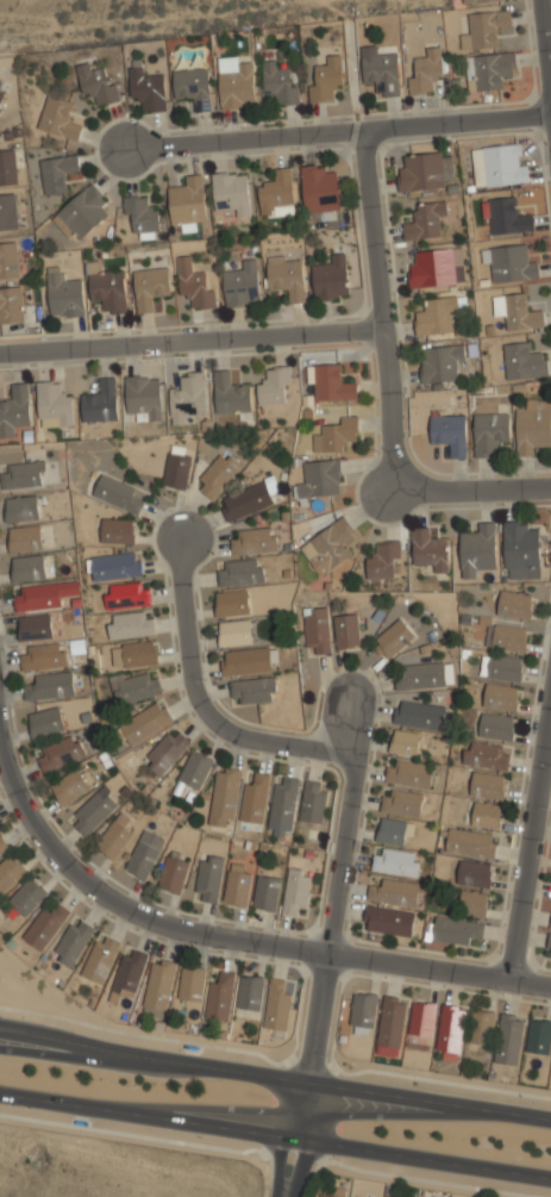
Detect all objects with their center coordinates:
building: (480, 1)
building: (484, 29)
road: (545, 46)
building: (490, 69)
building: (426, 70)
building: (382, 71)
building: (326, 75)
building: (0, 80)
building: (278, 82)
building: (96, 83)
building: (236, 83)
building: (1, 87)
building: (192, 88)
building: (146, 89)
building: (1, 94)
building: (60, 118)
road: (339, 135)
building: (499, 164)
building: (8, 167)
building: (424, 170)
building: (58, 172)
building: (320, 189)
building: (276, 193)
building: (231, 194)
building: (188, 201)
building: (8, 211)
building: (82, 213)
building: (506, 214)
building: (143, 216)
building: (425, 219)
building: (10, 260)
building: (511, 262)
building: (437, 267)
building: (286, 276)
building: (331, 278)
building: (194, 283)
building: (242, 285)
building: (150, 286)
building: (109, 292)
building: (64, 297)
building: (12, 305)
road: (378, 311)
building: (516, 311)
building: (434, 316)
road: (189, 337)
building: (524, 360)
building: (439, 362)
building: (328, 381)
building: (275, 385)
building: (231, 393)
building: (144, 397)
building: (188, 397)
building: (101, 403)
building: (52, 404)
building: (14, 411)
building: (533, 425)
building: (449, 430)
building: (489, 432)
building: (336, 434)
building: (176, 467)
building: (218, 473)
building: (24, 474)
building: (319, 479)
road: (474, 488)
building: (118, 493)
building: (250, 498)
building: (21, 507)
building: (118, 530)
building: (25, 537)
building: (255, 540)
building: (330, 544)
building: (520, 545)
building: (477, 547)
building: (430, 548)
building: (383, 559)
building: (30, 566)
building: (115, 566)
building: (240, 571)
building: (127, 594)
building: (37, 597)
building: (233, 601)
building: (514, 604)
building: (131, 623)
building: (35, 626)
building: (317, 629)
building: (346, 629)
building: (236, 632)
building: (394, 636)
building: (506, 636)
building: (134, 653)
building: (43, 655)
building: (245, 661)
building: (501, 666)
building: (426, 674)
building: (50, 684)
building: (133, 685)
building: (253, 690)
building: (501, 696)
building: (419, 713)
building: (45, 719)
building: (145, 722)
road: (343, 723)
building: (495, 725)
building: (405, 741)
building: (60, 752)
building: (167, 752)
building: (486, 754)
building: (195, 771)
building: (408, 772)
road: (352, 781)
building: (71, 784)
building: (486, 784)
building: (224, 797)
building: (255, 798)
building: (401, 800)
building: (313, 802)
building: (283, 803)
building: (93, 810)
building: (483, 813)
building: (393, 830)
building: (115, 835)
building: (470, 842)
road: (531, 842)
building: (2, 846)
building: (144, 853)
building: (395, 860)
building: (11, 871)
building: (474, 872)
building: (173, 873)
building: (208, 877)
building: (238, 884)
building: (296, 891)
building: (265, 892)
building: (395, 892)
building: (27, 897)
building: (472, 902)
building: (388, 919)
building: (550, 923)
building: (45, 925)
building: (455, 928)
road: (232, 939)
building: (73, 942)
building: (549, 946)
building: (100, 958)
building: (130, 970)
building: (190, 984)
building: (158, 986)
building: (250, 991)
building: (220, 996)
building: (278, 1003)
building: (363, 1012)
building: (422, 1020)
building: (392, 1025)
building: (481, 1027)
building: (450, 1030)
road: (10, 1035)
building: (538, 1036)
building: (509, 1037)
road: (275, 1077)
road: (275, 1135)
road: (288, 1167)
building: (332, 1192)
building: (355, 1196)

